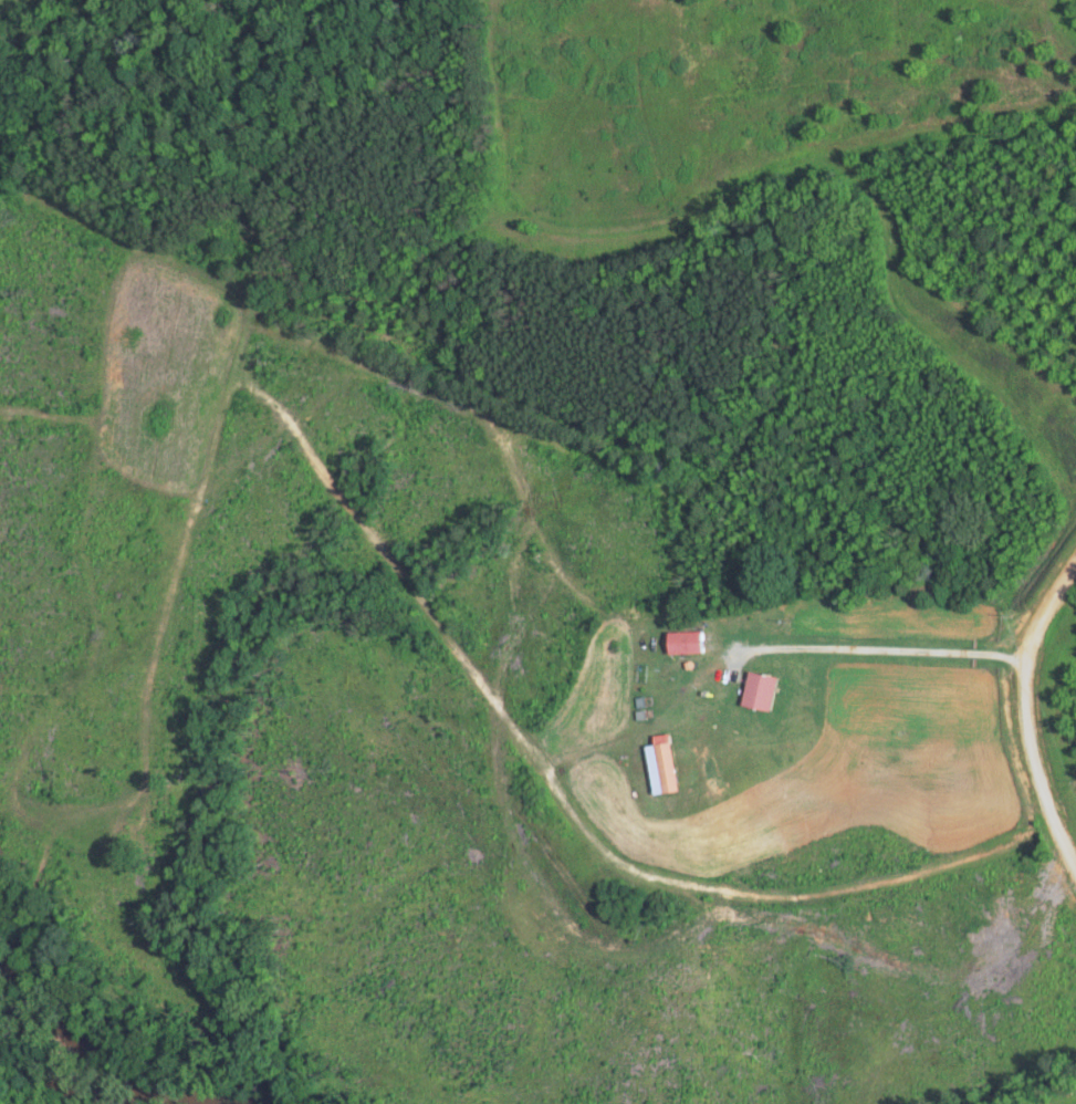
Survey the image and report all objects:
building: (758, 689)
building: (669, 762)

